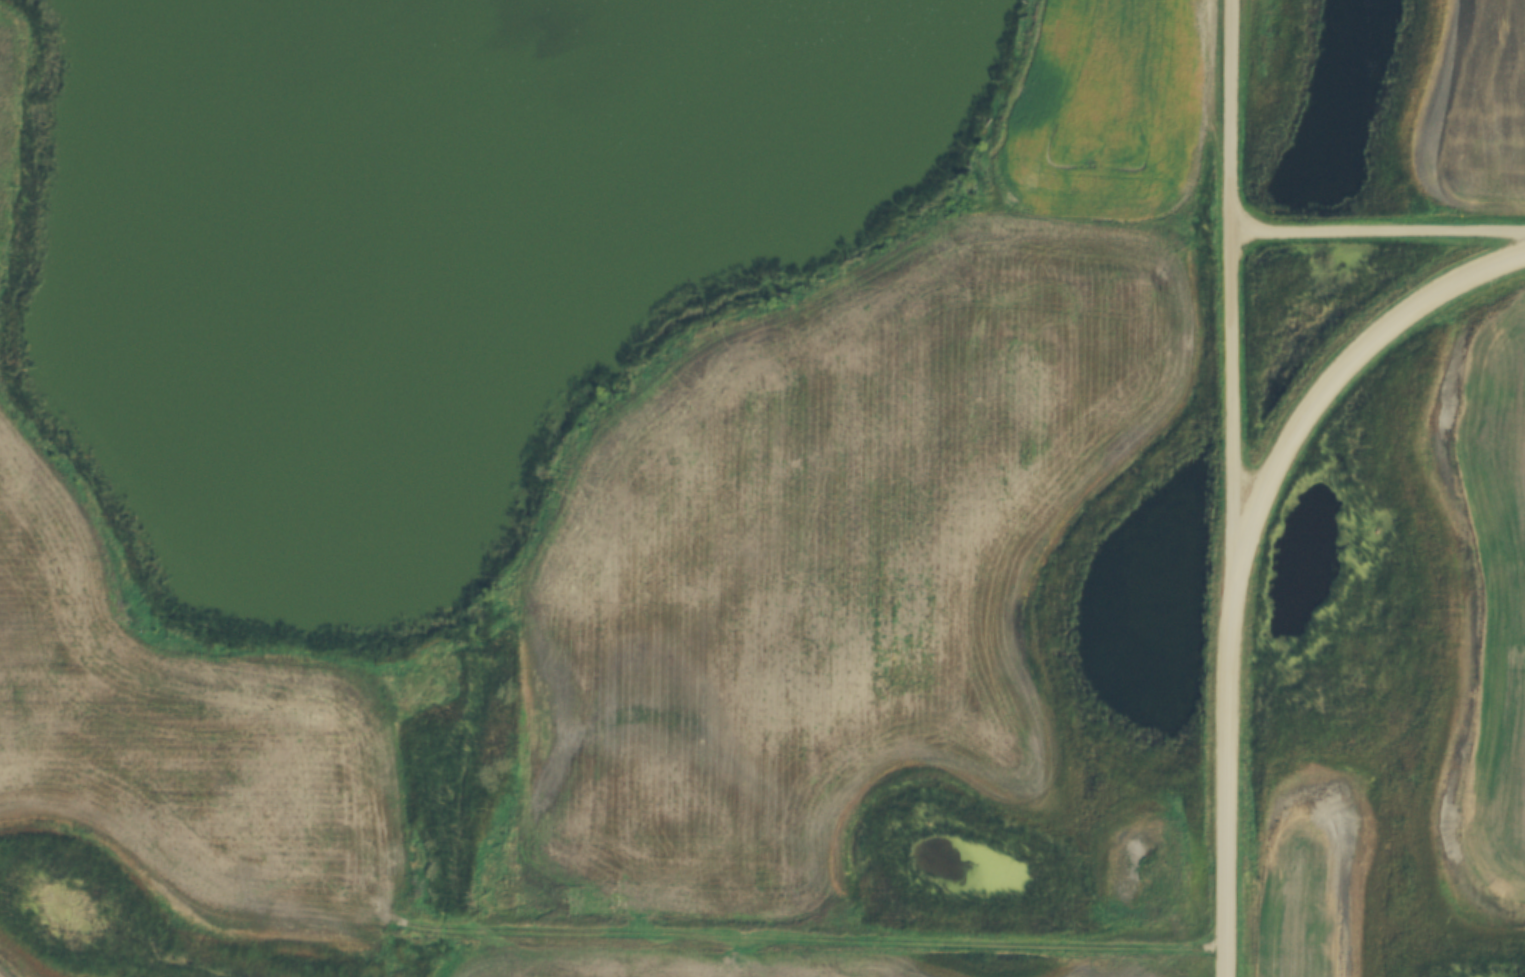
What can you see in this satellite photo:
road: (1382, 228)
road: (1239, 289)
road: (1340, 380)
road: (1236, 777)
road: (724, 937)

